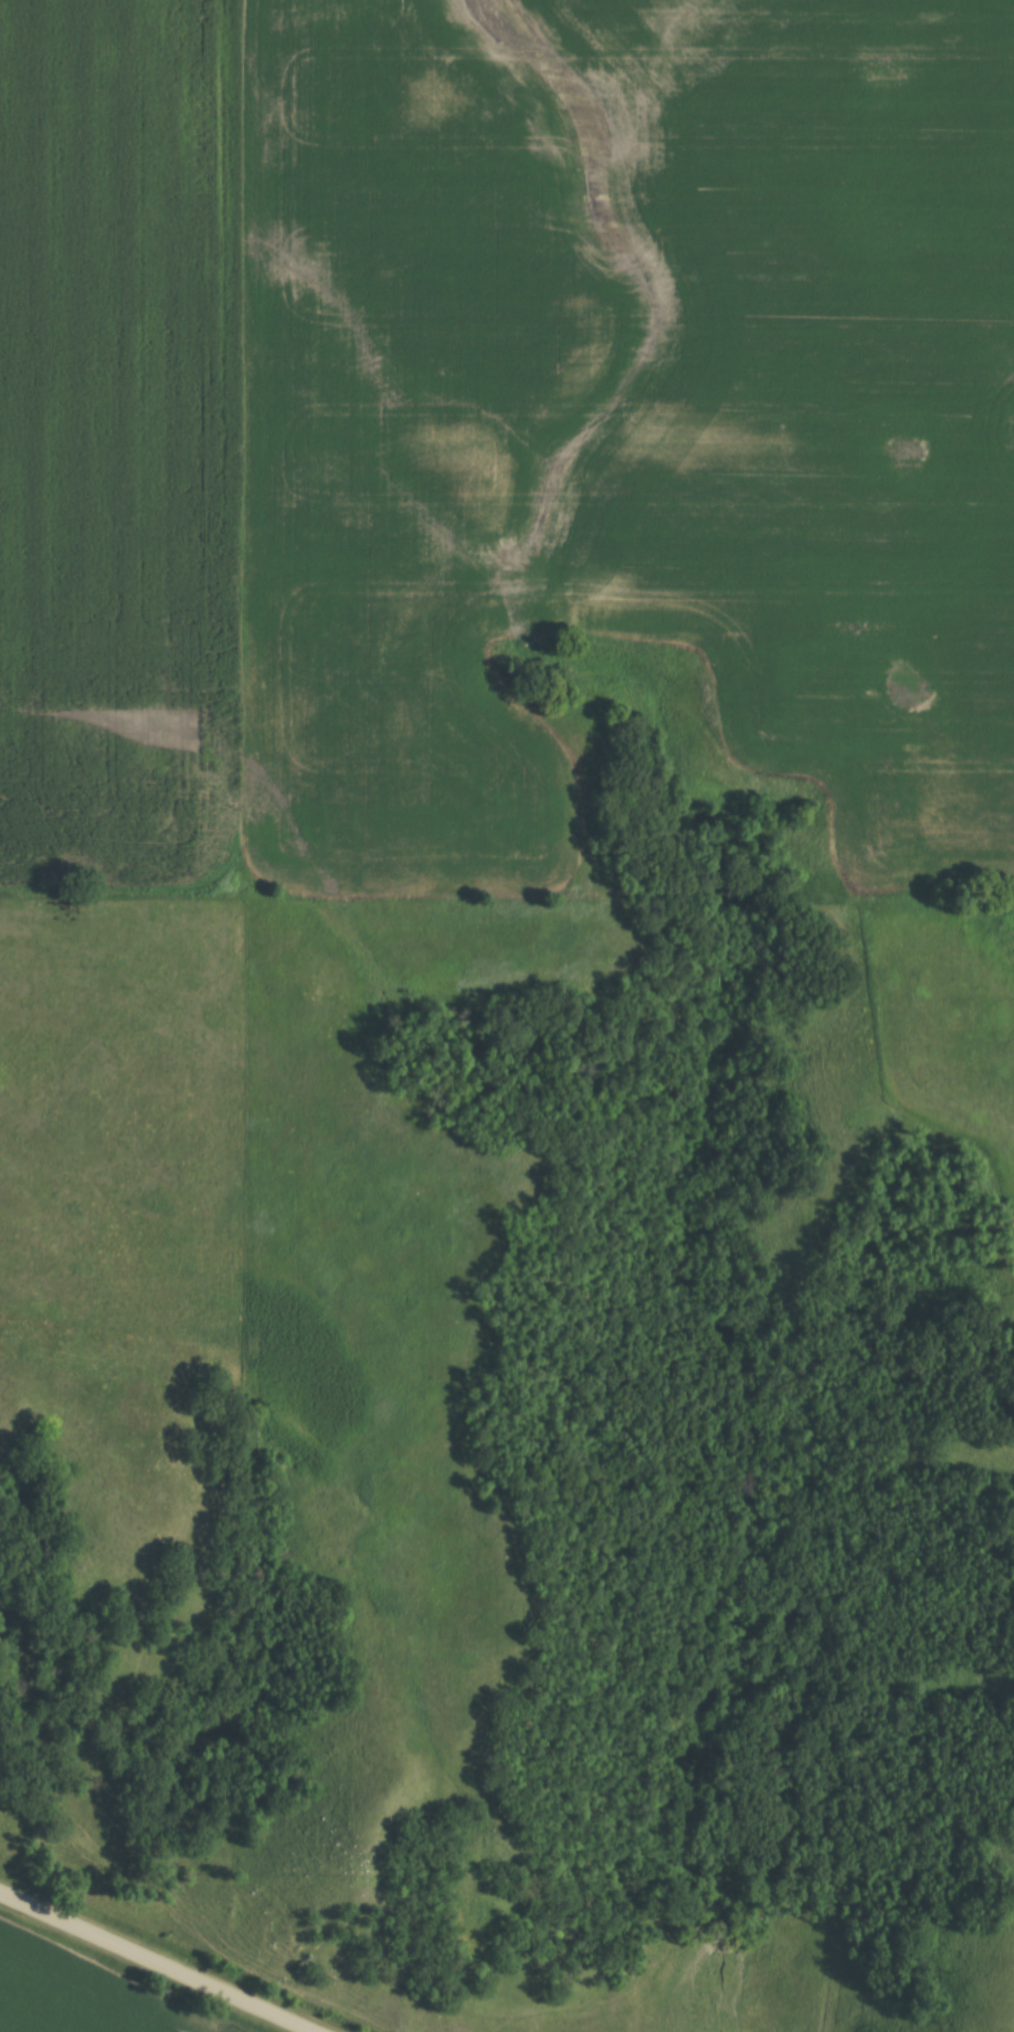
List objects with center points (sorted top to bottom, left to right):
road: (163, 1962)

